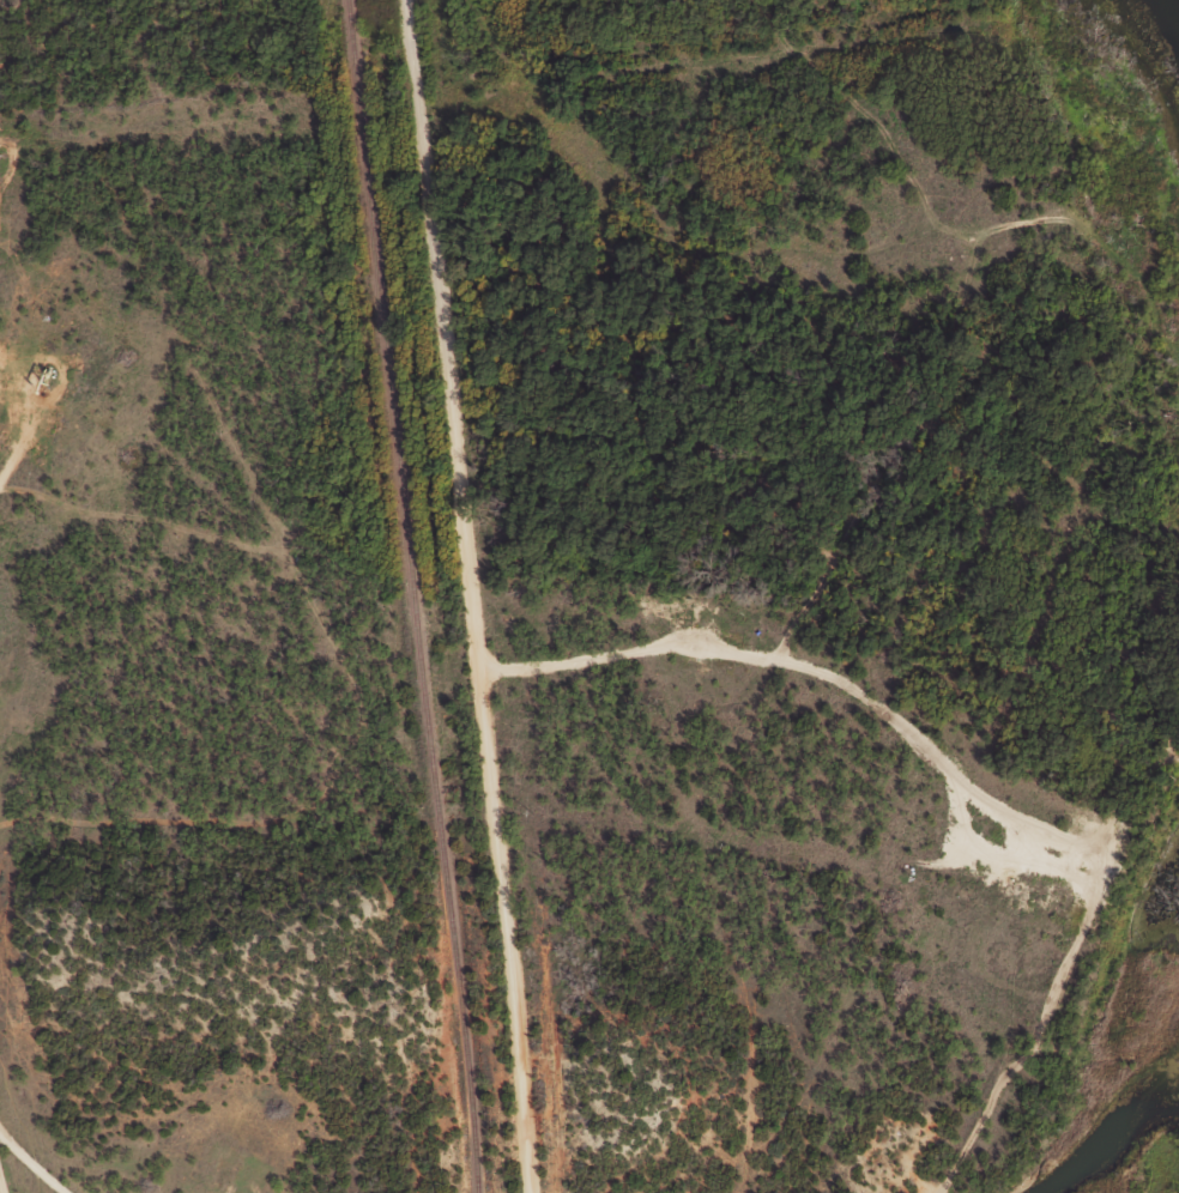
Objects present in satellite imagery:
road: (875, 442)
railway: (409, 595)
road: (453, 598)
road: (1056, 836)
road: (32, 1163)
road: (2, 1179)

